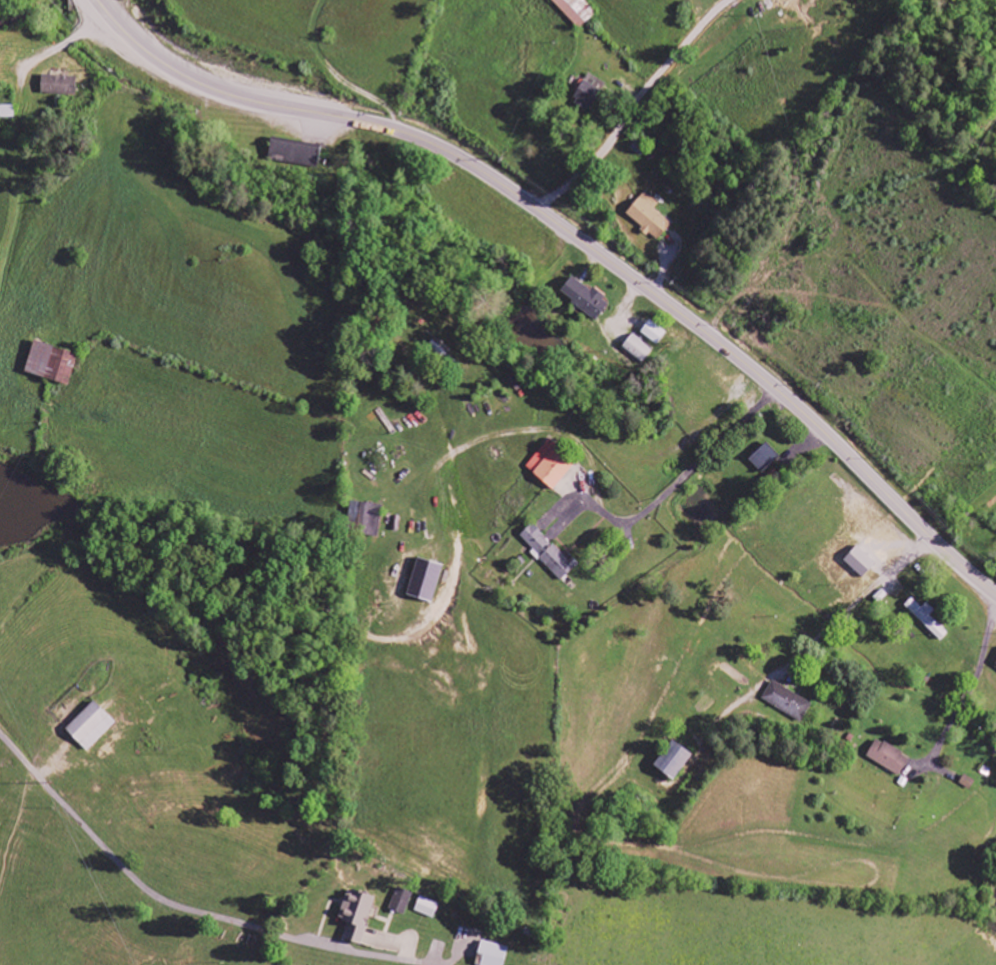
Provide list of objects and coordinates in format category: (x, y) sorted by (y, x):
building: (575, 11)
building: (60, 85)
building: (590, 91)
road: (628, 108)
building: (295, 154)
building: (649, 217)
road: (564, 228)
building: (585, 298)
building: (654, 333)
building: (637, 350)
building: (51, 364)
building: (765, 458)
building: (552, 464)
building: (365, 512)
building: (550, 552)
building: (861, 561)
building: (425, 579)
building: (927, 618)
building: (787, 701)
building: (91, 726)
building: (889, 757)
building: (674, 760)
building: (401, 901)
building: (427, 907)
road: (186, 910)
building: (357, 914)
building: (491, 954)

